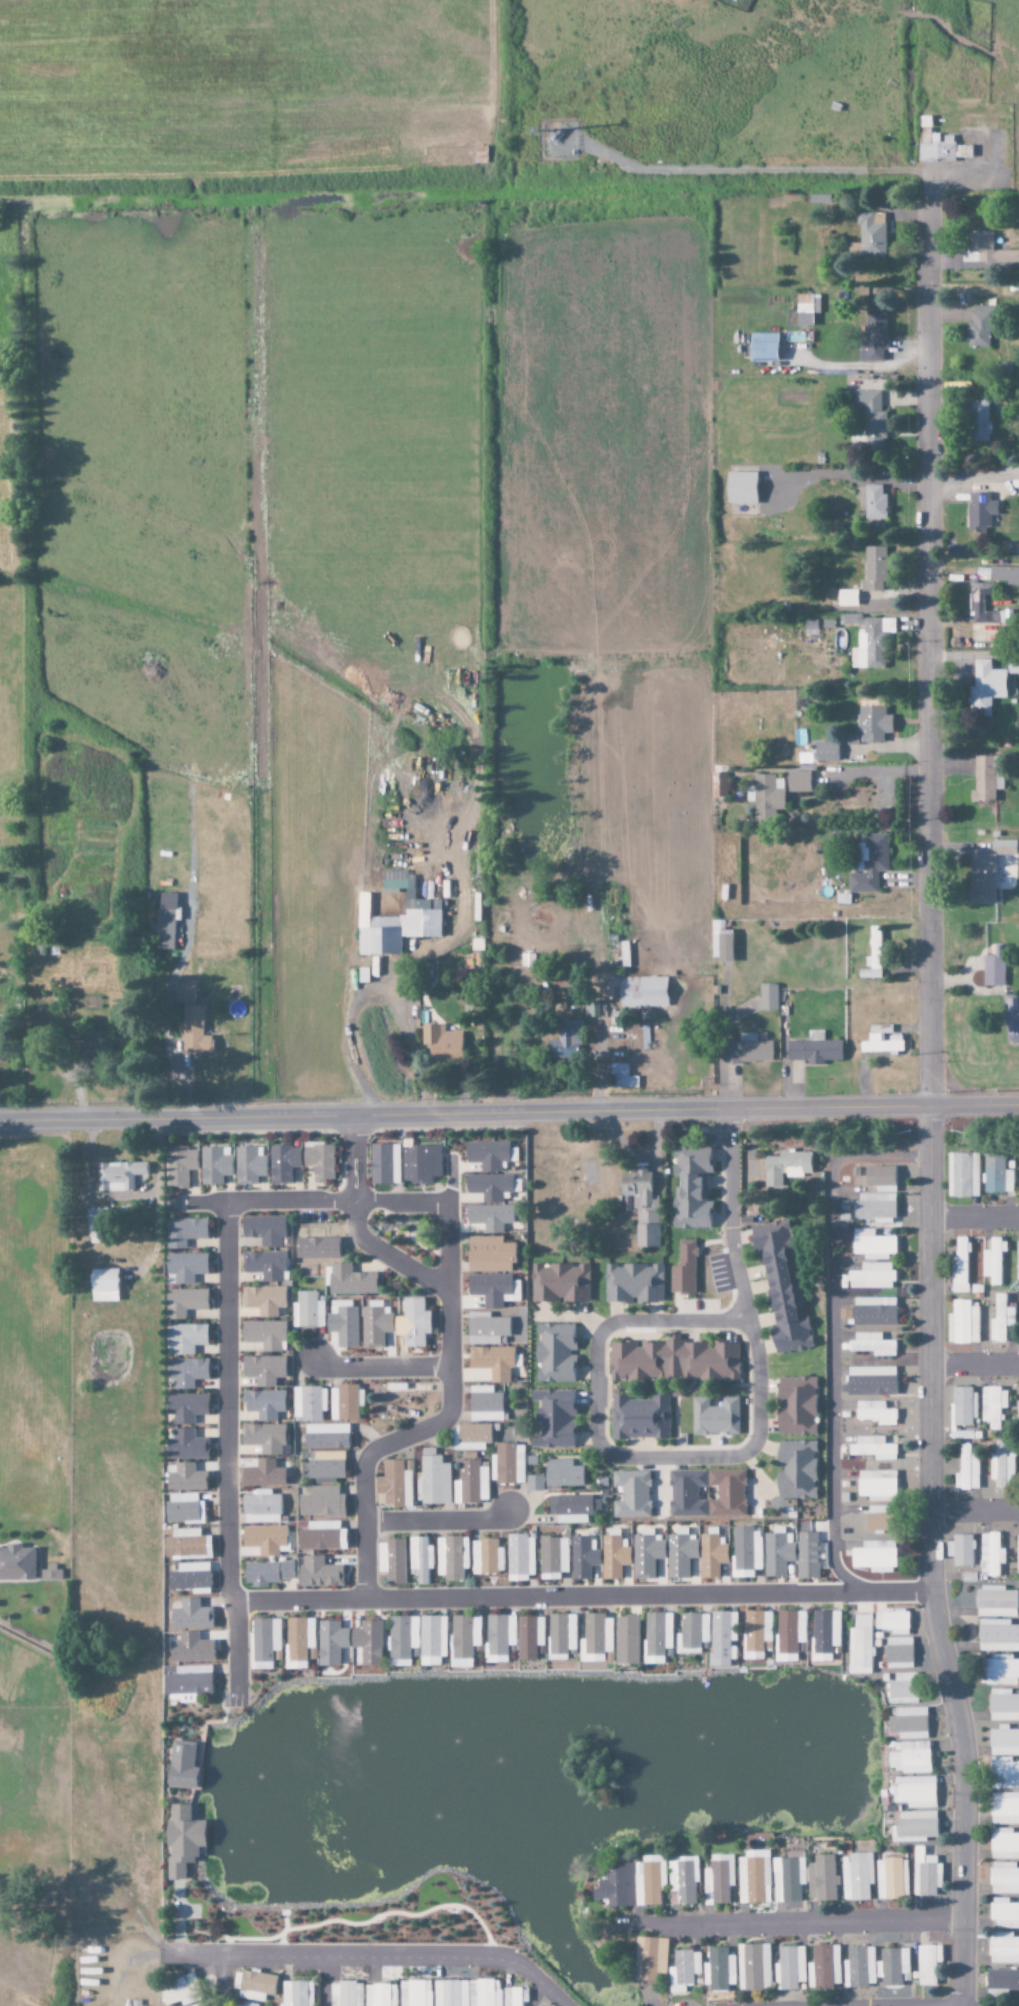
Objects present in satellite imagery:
crop: (243, 93)
building: (939, 148)
building: (871, 236)
building: (985, 251)
building: (806, 309)
building: (978, 327)
building: (872, 336)
building: (761, 347)
building: (871, 417)
building: (979, 421)
building: (740, 488)
building: (873, 502)
building: (979, 511)
building: (873, 569)
building: (1004, 575)
building: (846, 598)
building: (980, 605)
building: (850, 619)
building: (871, 643)
building: (1012, 665)
building: (985, 686)
building: (872, 724)
building: (825, 752)
building: (986, 778)
building: (718, 781)
building: (798, 782)
building: (868, 864)
building: (990, 871)
building: (395, 919)
building: (164, 922)
building: (723, 946)
building: (874, 953)
building: (994, 968)
building: (642, 992)
building: (767, 998)
building: (590, 1009)
building: (190, 1020)
building: (566, 1041)
building: (441, 1043)
building: (746, 1050)
building: (813, 1050)
building: (92, 1052)
building: (621, 1077)
road: (931, 1097)
road: (509, 1113)
building: (487, 1155)
building: (318, 1161)
building: (282, 1163)
building: (383, 1164)
building: (419, 1164)
building: (214, 1165)
building: (248, 1165)
building: (179, 1166)
building: (785, 1168)
building: (588, 1173)
building: (962, 1175)
building: (996, 1175)
building: (121, 1176)
building: (488, 1187)
building: (690, 1187)
building: (877, 1194)
road: (123, 1198)
building: (641, 1207)
road: (974, 1215)
building: (489, 1217)
building: (95, 1223)
building: (264, 1230)
building: (183, 1232)
building: (317, 1242)
building: (872, 1245)
building: (488, 1255)
building: (993, 1261)
building: (1017, 1263)
building: (264, 1265)
building: (185, 1267)
building: (959, 1267)
building: (871, 1277)
building: (681, 1280)
building: (350, 1281)
building: (559, 1283)
building: (633, 1284)
building: (103, 1285)
building: (781, 1287)
building: (489, 1289)
building: (264, 1300)
building: (183, 1303)
building: (307, 1311)
building: (873, 1312)
road: (450, 1321)
building: (1001, 1321)
building: (411, 1323)
building: (962, 1324)
building: (343, 1326)
building: (374, 1326)
road: (832, 1328)
building: (485, 1329)
building: (263, 1335)
building: (184, 1339)
building: (871, 1345)
building: (554, 1353)
building: (672, 1361)
building: (492, 1362)
road: (975, 1363)
road: (381, 1368)
building: (262, 1370)
building: (186, 1372)
building: (870, 1381)
building: (398, 1399)
building: (308, 1403)
building: (343, 1403)
building: (263, 1404)
building: (484, 1405)
building: (993, 1406)
building: (795, 1407)
building: (962, 1411)
building: (1018, 1412)
building: (874, 1413)
building: (714, 1417)
building: (639, 1418)
building: (553, 1419)
building: (185, 1427)
building: (326, 1437)
building: (470, 1437)
building: (264, 1439)
building: (872, 1448)
road: (712, 1458)
building: (510, 1464)
building: (1001, 1466)
building: (967, 1467)
building: (795, 1470)
building: (273, 1474)
building: (563, 1474)
building: (184, 1478)
building: (433, 1480)
building: (534, 1483)
building: (393, 1486)
building: (876, 1486)
building: (683, 1494)
building: (631, 1495)
building: (321, 1503)
building: (260, 1508)
building: (183, 1509)
road: (974, 1509)
building: (877, 1519)
road: (440, 1520)
building: (321, 1537)
building: (264, 1539)
building: (186, 1544)
building: (959, 1551)
building: (746, 1552)
building: (777, 1553)
building: (680, 1555)
building: (990, 1555)
building: (1017, 1555)
building: (646, 1556)
building: (712, 1556)
building: (807, 1556)
building: (486, 1557)
building: (874, 1557)
building: (451, 1558)
building: (520, 1558)
building: (552, 1558)
building: (582, 1558)
building: (613, 1558)
building: (419, 1560)
building: (391, 1561)
building: (16, 1564)
building: (51, 1573)
building: (266, 1573)
building: (318, 1573)
road: (232, 1583)
road: (582, 1597)
building: (995, 1602)
building: (892, 1622)
building: (789, 1632)
building: (826, 1632)
building: (561, 1634)
building: (692, 1634)
building: (499, 1635)
building: (756, 1635)
building: (997, 1636)
building: (463, 1637)
building: (529, 1637)
building: (656, 1637)
building: (298, 1639)
building: (595, 1639)
building: (264, 1640)
building: (402, 1640)
building: (721, 1640)
building: (431, 1641)
building: (626, 1641)
building: (331, 1643)
building: (368, 1643)
building: (861, 1645)
building: (190, 1649)
building: (899, 1653)
building: (1001, 1671)
building: (188, 1684)
building: (904, 1689)
building: (1003, 1706)
building: (909, 1723)
building: (1004, 1743)
building: (911, 1758)
building: (182, 1766)
building: (1004, 1774)
building: (917, 1792)
building: (1004, 1808)
building: (916, 1824)
building: (182, 1840)
building: (1004, 1844)
building: (925, 1874)
building: (857, 1877)
building: (889, 1878)
building: (789, 1879)
building: (822, 1879)
building: (1004, 1879)
building: (720, 1880)
building: (753, 1880)
building: (684, 1881)
building: (1004, 1914)
road: (367, 1922)
road: (796, 1924)
building: (1003, 1949)
building: (651, 1958)
road: (375, 1959)
building: (927, 1964)
building: (825, 1966)
building: (892, 1966)
building: (755, 1967)
building: (859, 1967)
building: (790, 1968)
building: (719, 1969)
building: (685, 1971)
building: (1002, 1979)
road: (221, 1982)
building: (254, 1985)
building: (180, 1993)
building: (298, 1993)
building: (415, 1993)
building: (451, 1993)
building: (484, 1993)
building: (346, 1994)
building: (381, 1995)
building: (515, 1997)
building: (249, 2005)

